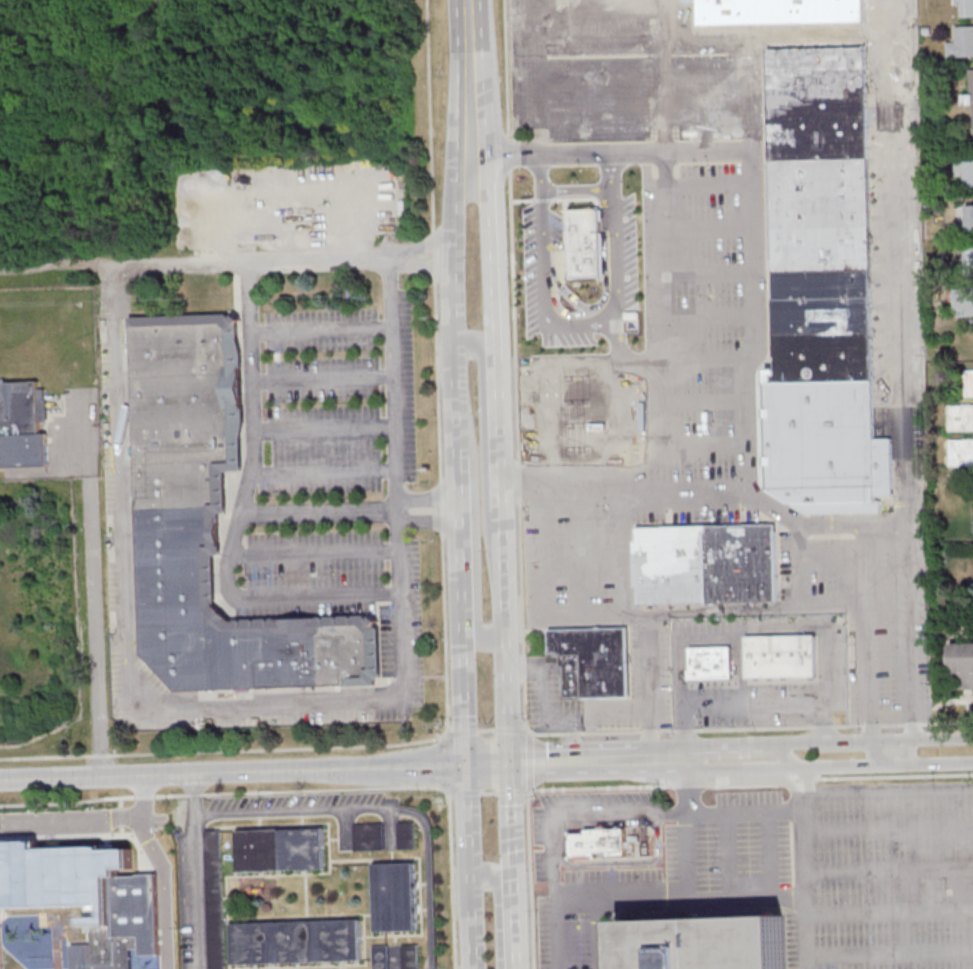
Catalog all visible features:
road: (605, 5)
building: (966, 6)
road: (679, 21)
road: (468, 22)
building: (961, 42)
road: (606, 45)
road: (641, 76)
building: (971, 80)
road: (477, 97)
road: (581, 120)
road: (460, 140)
road: (619, 150)
building: (965, 171)
road: (709, 186)
road: (576, 190)
building: (970, 219)
road: (709, 229)
road: (753, 234)
building: (818, 239)
road: (666, 240)
road: (389, 256)
road: (280, 259)
road: (898, 259)
building: (970, 260)
road: (56, 269)
road: (710, 272)
road: (497, 274)
road: (602, 301)
building: (964, 301)
road: (561, 311)
road: (710, 316)
road: (587, 325)
road: (321, 331)
road: (618, 344)
road: (643, 362)
road: (514, 366)
road: (323, 379)
building: (971, 383)
road: (642, 404)
building: (961, 418)
road: (540, 422)
building: (20, 426)
road: (324, 429)
road: (486, 429)
road: (253, 431)
road: (643, 447)
building: (961, 452)
road: (121, 462)
road: (502, 463)
road: (325, 471)
road: (441, 484)
road: (695, 488)
road: (434, 496)
road: (462, 500)
road: (321, 511)
road: (435, 522)
road: (855, 523)
building: (213, 525)
road: (475, 537)
road: (544, 549)
road: (578, 550)
road: (624, 551)
road: (316, 553)
road: (835, 559)
building: (705, 563)
road: (93, 594)
road: (318, 597)
road: (707, 609)
road: (405, 626)
road: (753, 629)
road: (912, 629)
road: (871, 632)
road: (507, 644)
building: (781, 656)
building: (592, 662)
building: (711, 662)
building: (962, 662)
road: (649, 685)
road: (752, 702)
road: (553, 721)
road: (751, 729)
road: (486, 730)
road: (512, 731)
road: (461, 732)
road: (576, 741)
road: (875, 741)
road: (732, 746)
road: (279, 748)
road: (894, 753)
road: (102, 754)
road: (670, 754)
road: (46, 756)
road: (635, 758)
road: (687, 759)
road: (653, 760)
traffic signals: (512, 761)
road: (531, 761)
road: (564, 761)
road: (488, 762)
traffic signals: (465, 763)
road: (803, 766)
road: (794, 768)
road: (232, 772)
road: (893, 776)
road: (796, 779)
road: (787, 780)
road: (745, 786)
road: (689, 787)
road: (600, 788)
road: (887, 791)
road: (513, 792)
road: (225, 793)
road: (487, 793)
road: (464, 794)
road: (382, 809)
road: (730, 814)
road: (120, 815)
road: (90, 818)
road: (467, 820)
road: (553, 823)
road: (197, 828)
road: (888, 829)
road: (85, 835)
building: (406, 835)
building: (369, 837)
building: (596, 840)
building: (281, 849)
road: (726, 854)
road: (770, 854)
road: (687, 855)
road: (515, 864)
road: (189, 870)
road: (889, 872)
road: (530, 879)
road: (419, 880)
road: (164, 890)
road: (805, 891)
road: (680, 894)
building: (83, 895)
road: (306, 895)
building: (396, 896)
road: (371, 897)
building: (214, 899)
road: (502, 909)
road: (890, 913)
road: (471, 923)
road: (598, 931)
building: (697, 938)
building: (297, 941)
road: (228, 945)
road: (890, 953)
building: (381, 956)
building: (410, 956)
road: (455, 968)

